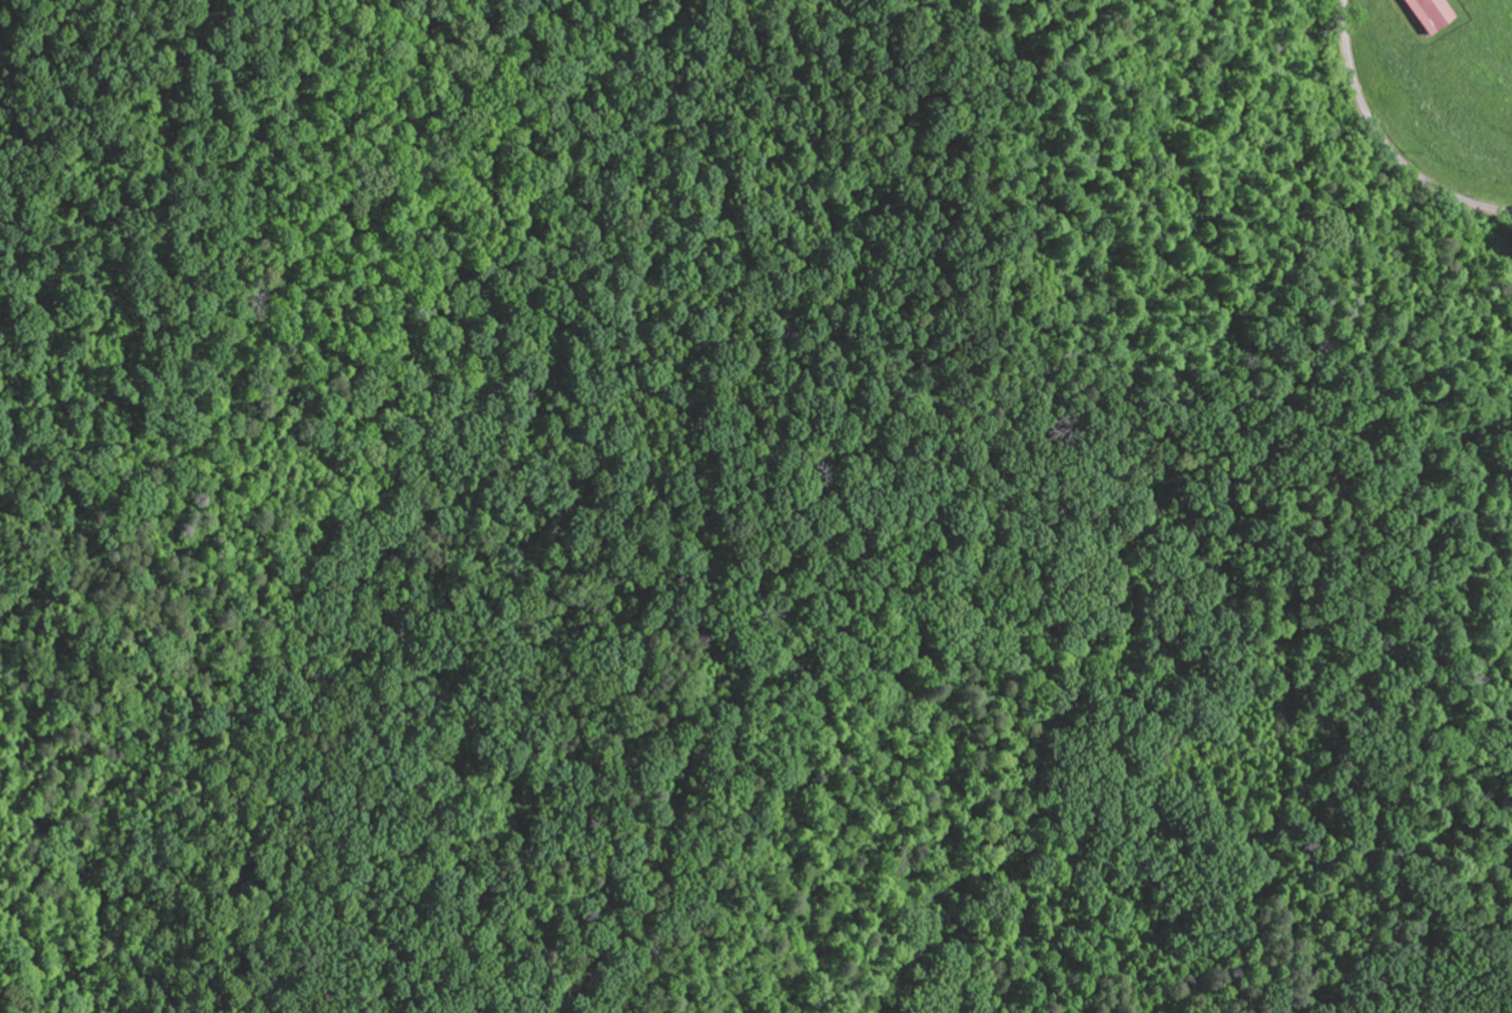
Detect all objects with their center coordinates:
building: (1427, 14)
road: (1386, 139)

